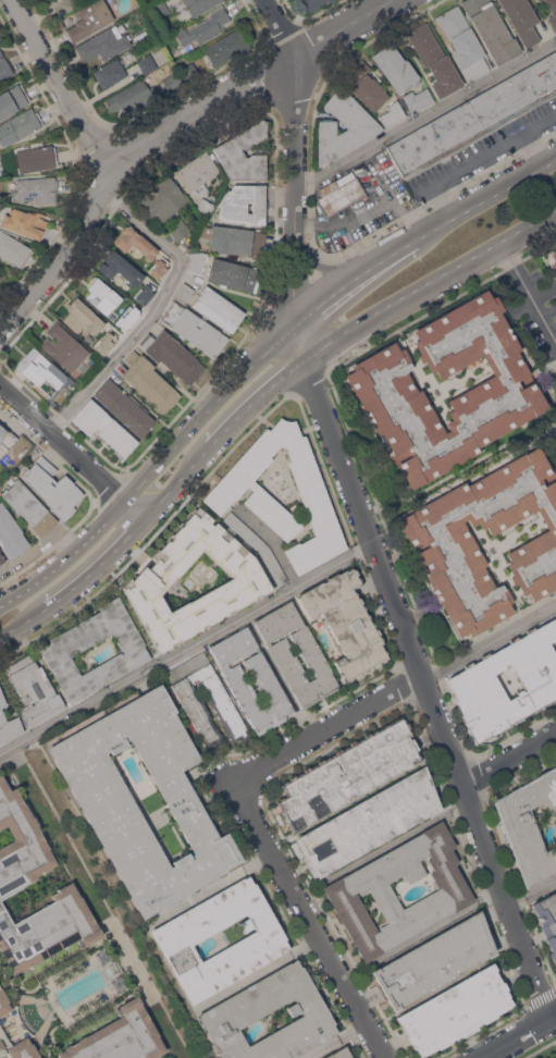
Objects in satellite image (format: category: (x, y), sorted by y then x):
building: (314, 3)
building: (62, 5)
building: (199, 5)
building: (159, 9)
building: (552, 12)
building: (89, 20)
building: (521, 20)
building: (205, 27)
building: (491, 29)
building: (138, 37)
building: (462, 42)
building: (103, 44)
building: (226, 47)
building: (434, 60)
building: (147, 63)
building: (170, 65)
building: (395, 66)
building: (4, 67)
building: (188, 72)
building: (110, 73)
building: (173, 81)
road: (63, 84)
building: (365, 84)
building: (132, 97)
building: (12, 99)
building: (417, 99)
building: (393, 113)
building: (475, 115)
road: (425, 116)
building: (18, 125)
building: (362, 126)
road: (162, 131)
building: (244, 152)
road: (530, 152)
building: (36, 158)
road: (473, 160)
building: (197, 172)
building: (37, 188)
building: (339, 194)
building: (163, 199)
building: (244, 204)
building: (205, 207)
road: (365, 210)
building: (25, 222)
building: (178, 229)
building: (234, 239)
building: (137, 243)
building: (13, 249)
building: (198, 261)
building: (552, 261)
building: (121, 268)
road: (333, 268)
building: (159, 269)
building: (233, 274)
building: (184, 292)
building: (145, 294)
road: (528, 294)
building: (101, 295)
building: (218, 308)
road: (155, 310)
building: (84, 319)
building: (195, 328)
building: (64, 347)
building: (173, 355)
road: (259, 360)
building: (41, 371)
building: (150, 381)
building: (380, 385)
road: (256, 398)
building: (124, 407)
building: (103, 426)
building: (7, 435)
road: (73, 453)
building: (52, 487)
building: (223, 493)
building: (28, 507)
road: (360, 519)
building: (11, 533)
building: (442, 544)
building: (256, 546)
building: (1, 558)
building: (0, 563)
building: (203, 573)
building: (152, 579)
building: (555, 614)
building: (346, 623)
road: (486, 641)
road: (183, 648)
building: (60, 650)
building: (311, 654)
building: (264, 679)
building: (472, 679)
building: (34, 689)
building: (186, 693)
building: (8, 722)
road: (325, 733)
road: (505, 754)
building: (348, 772)
building: (104, 800)
building: (369, 822)
building: (528, 825)
building: (21, 842)
building: (452, 890)
road: (531, 895)
road: (99, 903)
building: (547, 920)
road: (311, 922)
building: (47, 928)
building: (260, 942)
building: (434, 960)
building: (239, 1008)
building: (456, 1010)
building: (15, 1031)
building: (120, 1036)
road: (519, 1037)
building: (339, 1053)
building: (554, 1057)

